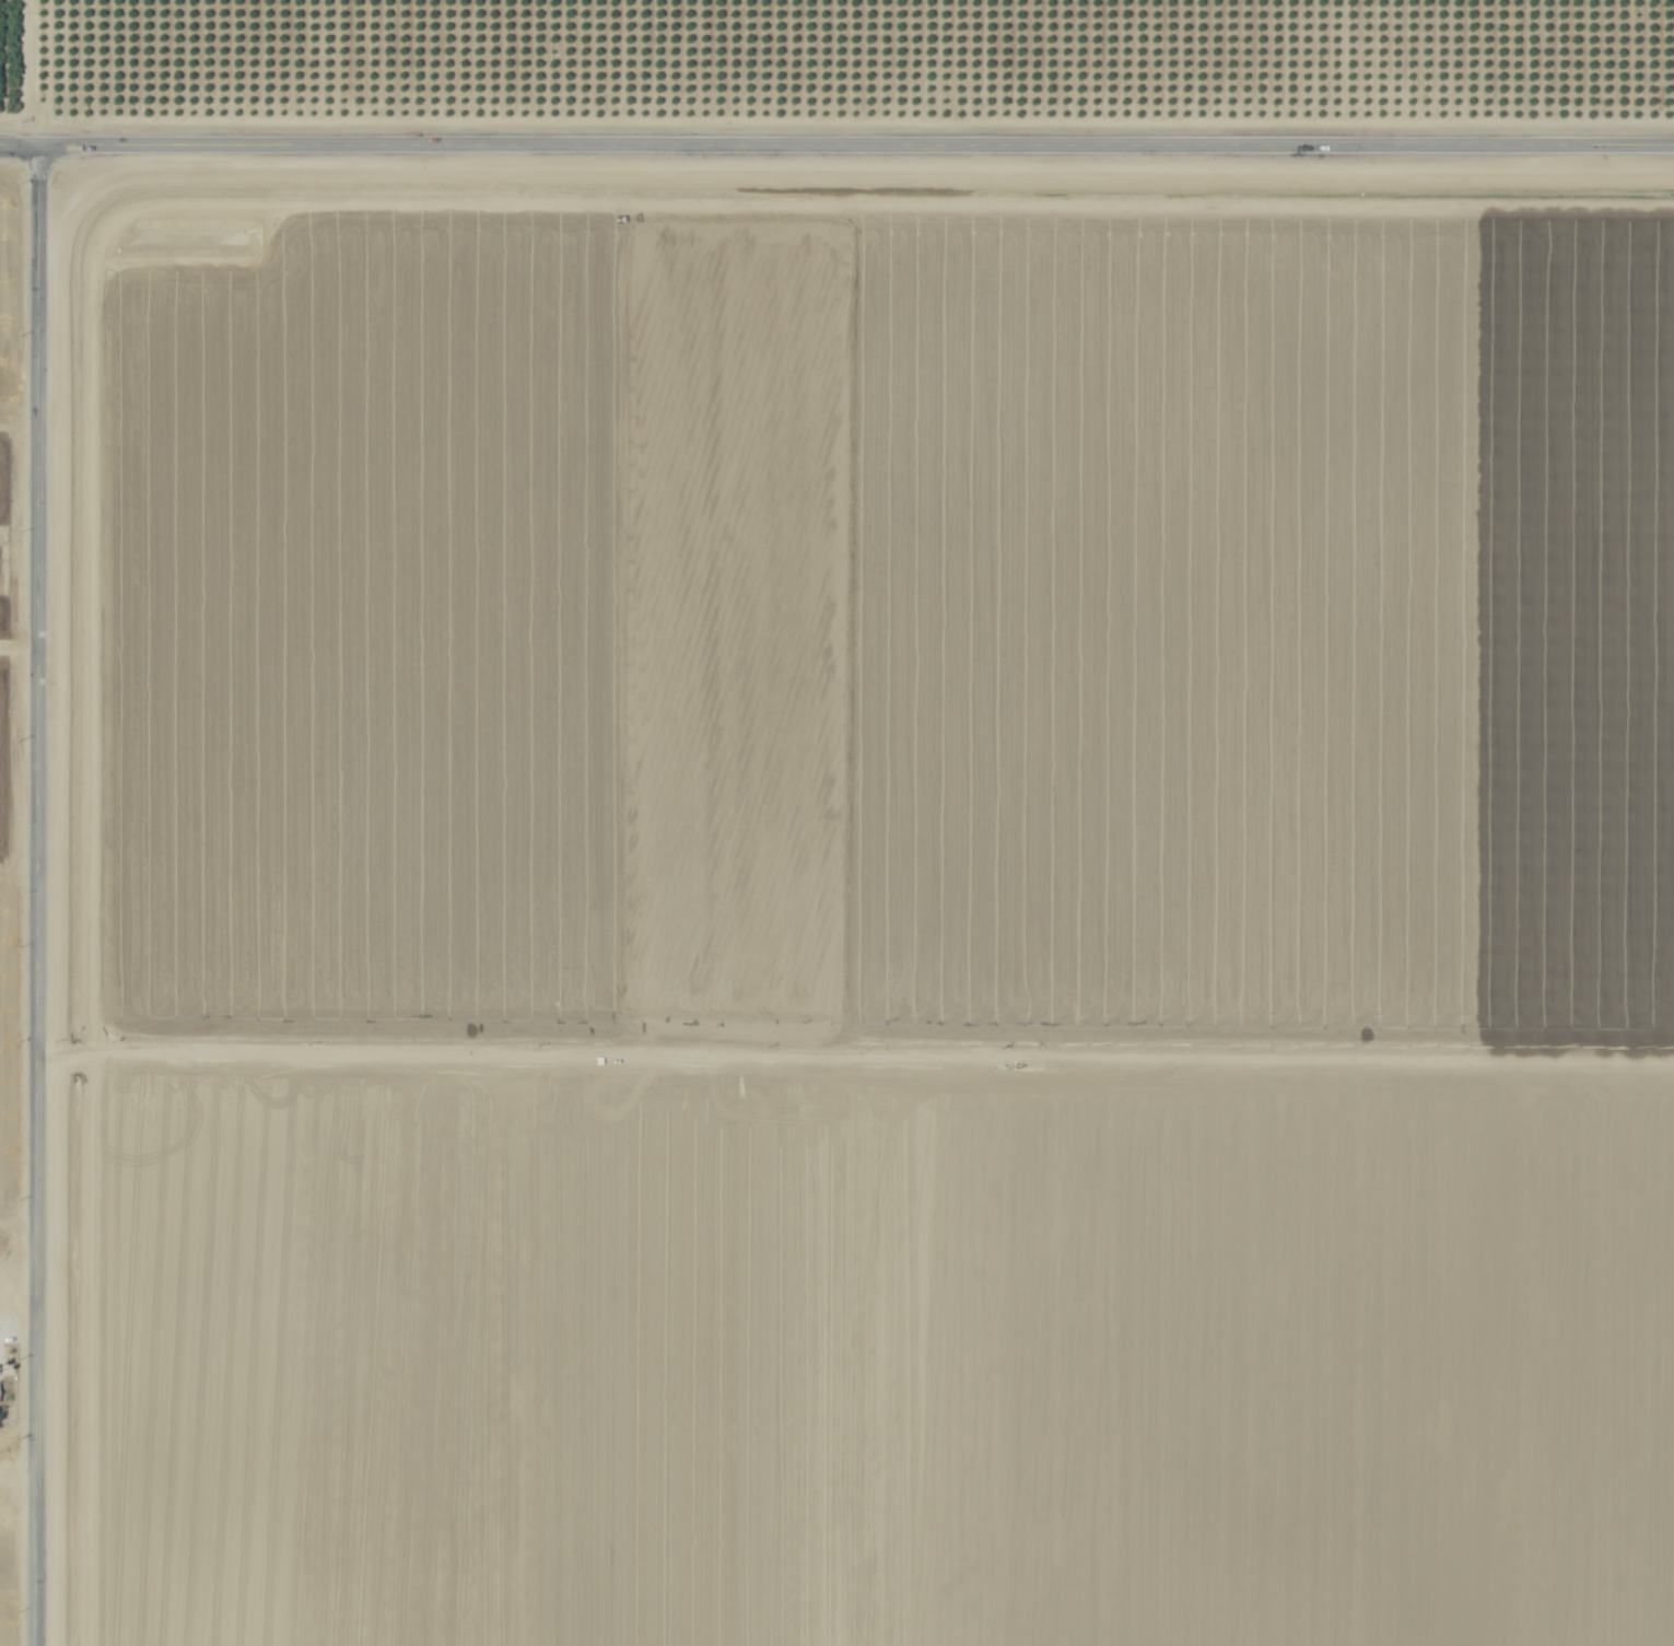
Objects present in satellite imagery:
road: (40, 72)
road: (836, 144)
road: (38, 895)
crop: (867, 909)
road: (19, 1303)
road: (19, 1468)
crop: (10, 1577)

